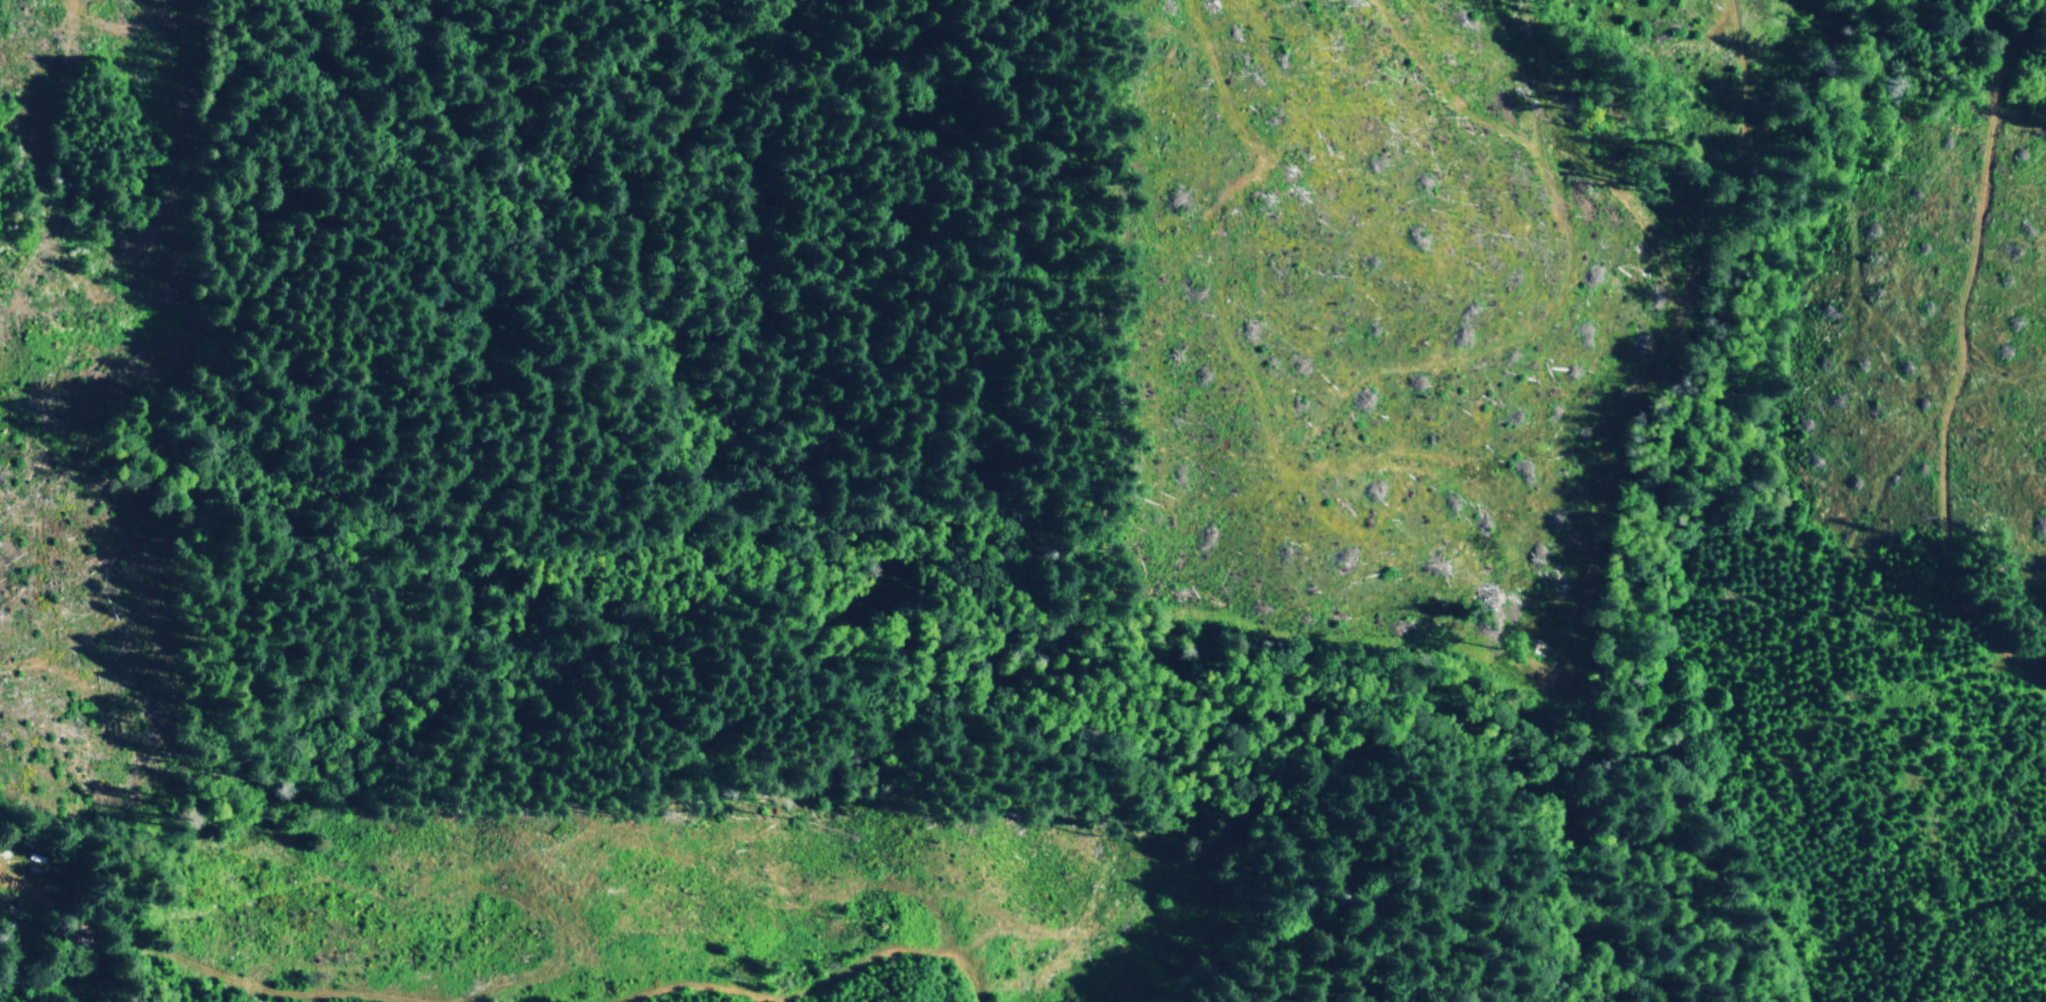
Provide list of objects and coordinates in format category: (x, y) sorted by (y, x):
road: (1782, 930)

